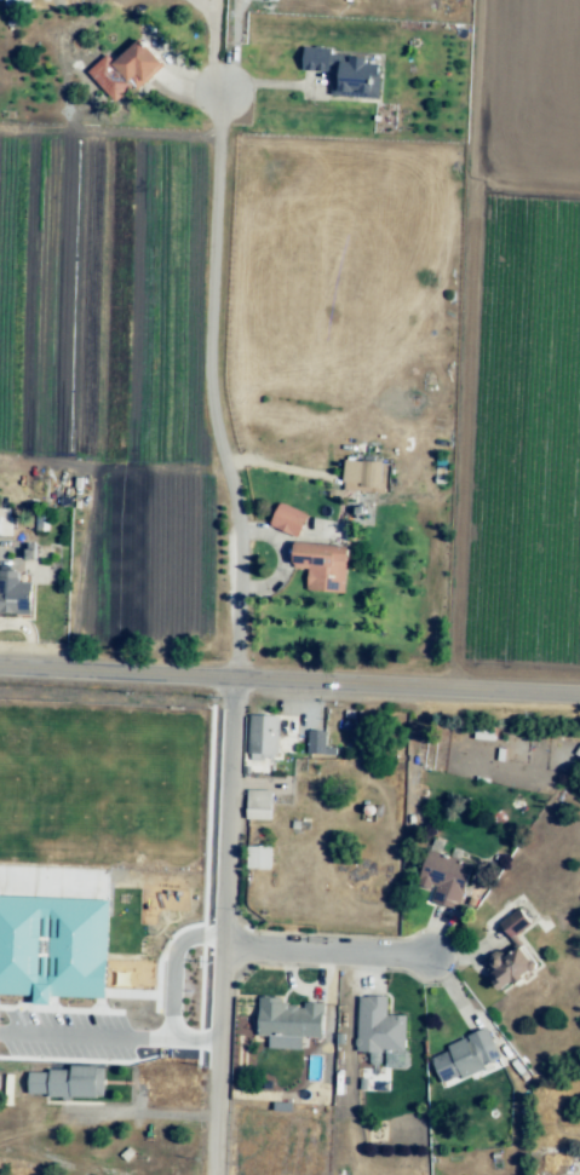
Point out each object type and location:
building: (16, 2)
building: (316, 59)
building: (137, 63)
building: (360, 77)
crop: (526, 351)
crop: (113, 365)
road: (216, 391)
building: (374, 476)
building: (291, 519)
building: (5, 520)
building: (38, 522)
building: (30, 553)
building: (323, 569)
building: (17, 595)
road: (114, 674)
road: (404, 687)
building: (483, 732)
building: (262, 736)
building: (317, 745)
building: (258, 807)
building: (257, 857)
building: (446, 881)
building: (513, 923)
road: (218, 928)
building: (52, 946)
road: (320, 952)
building: (507, 956)
road: (171, 968)
building: (288, 1019)
building: (380, 1032)
road: (107, 1036)
building: (465, 1060)
building: (79, 1078)

